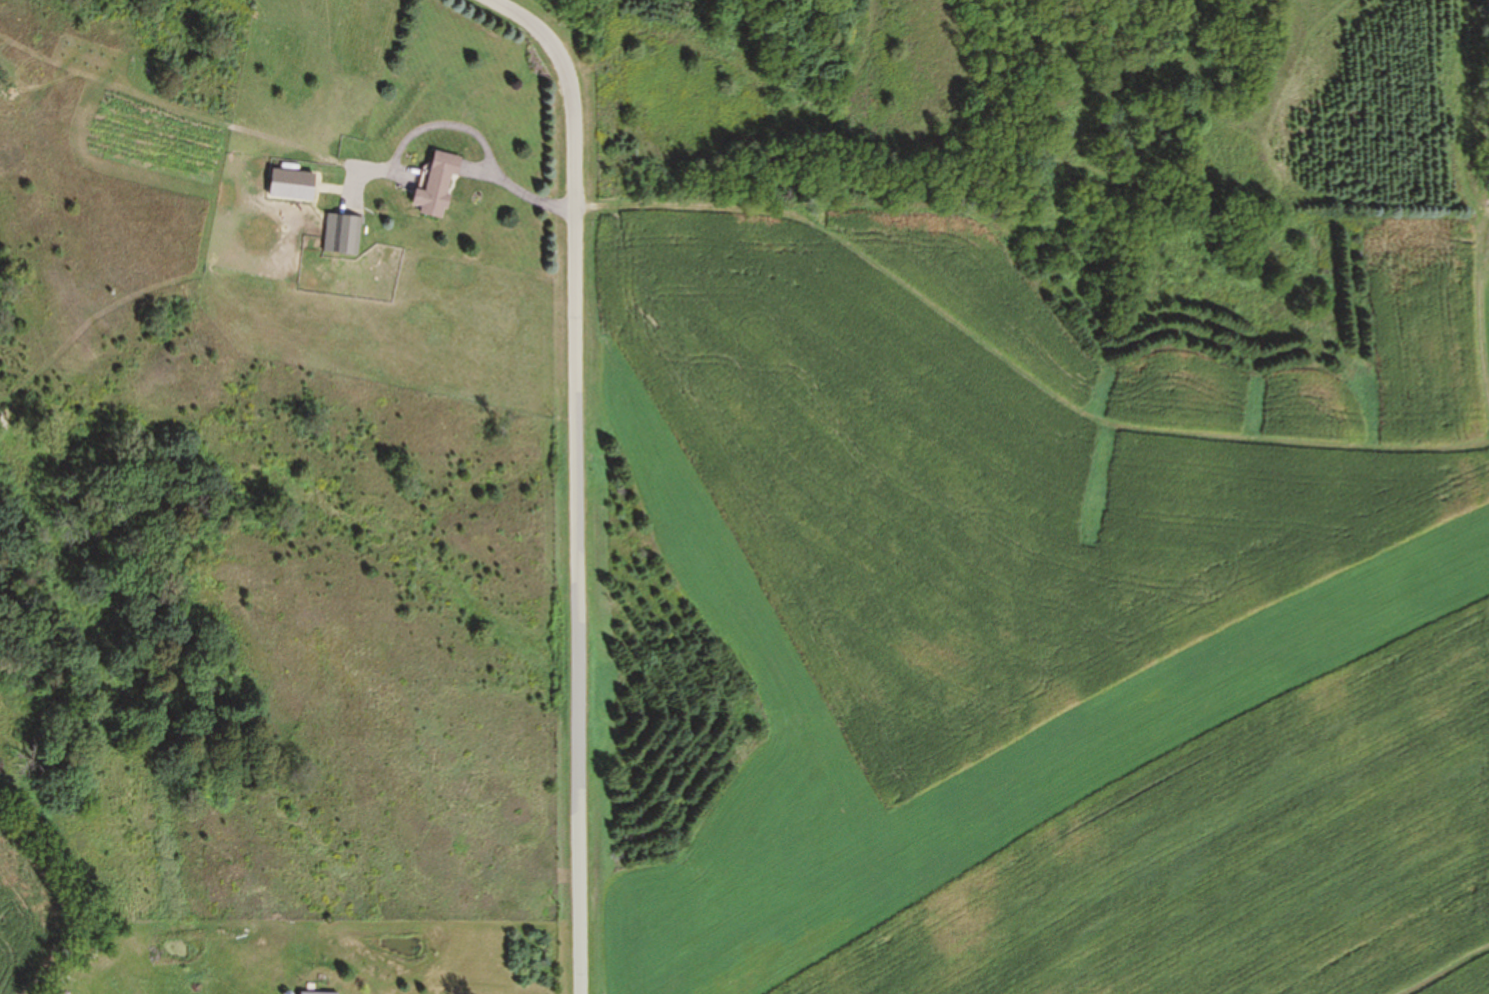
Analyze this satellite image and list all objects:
building: (438, 187)
road: (562, 460)
building: (319, 993)

